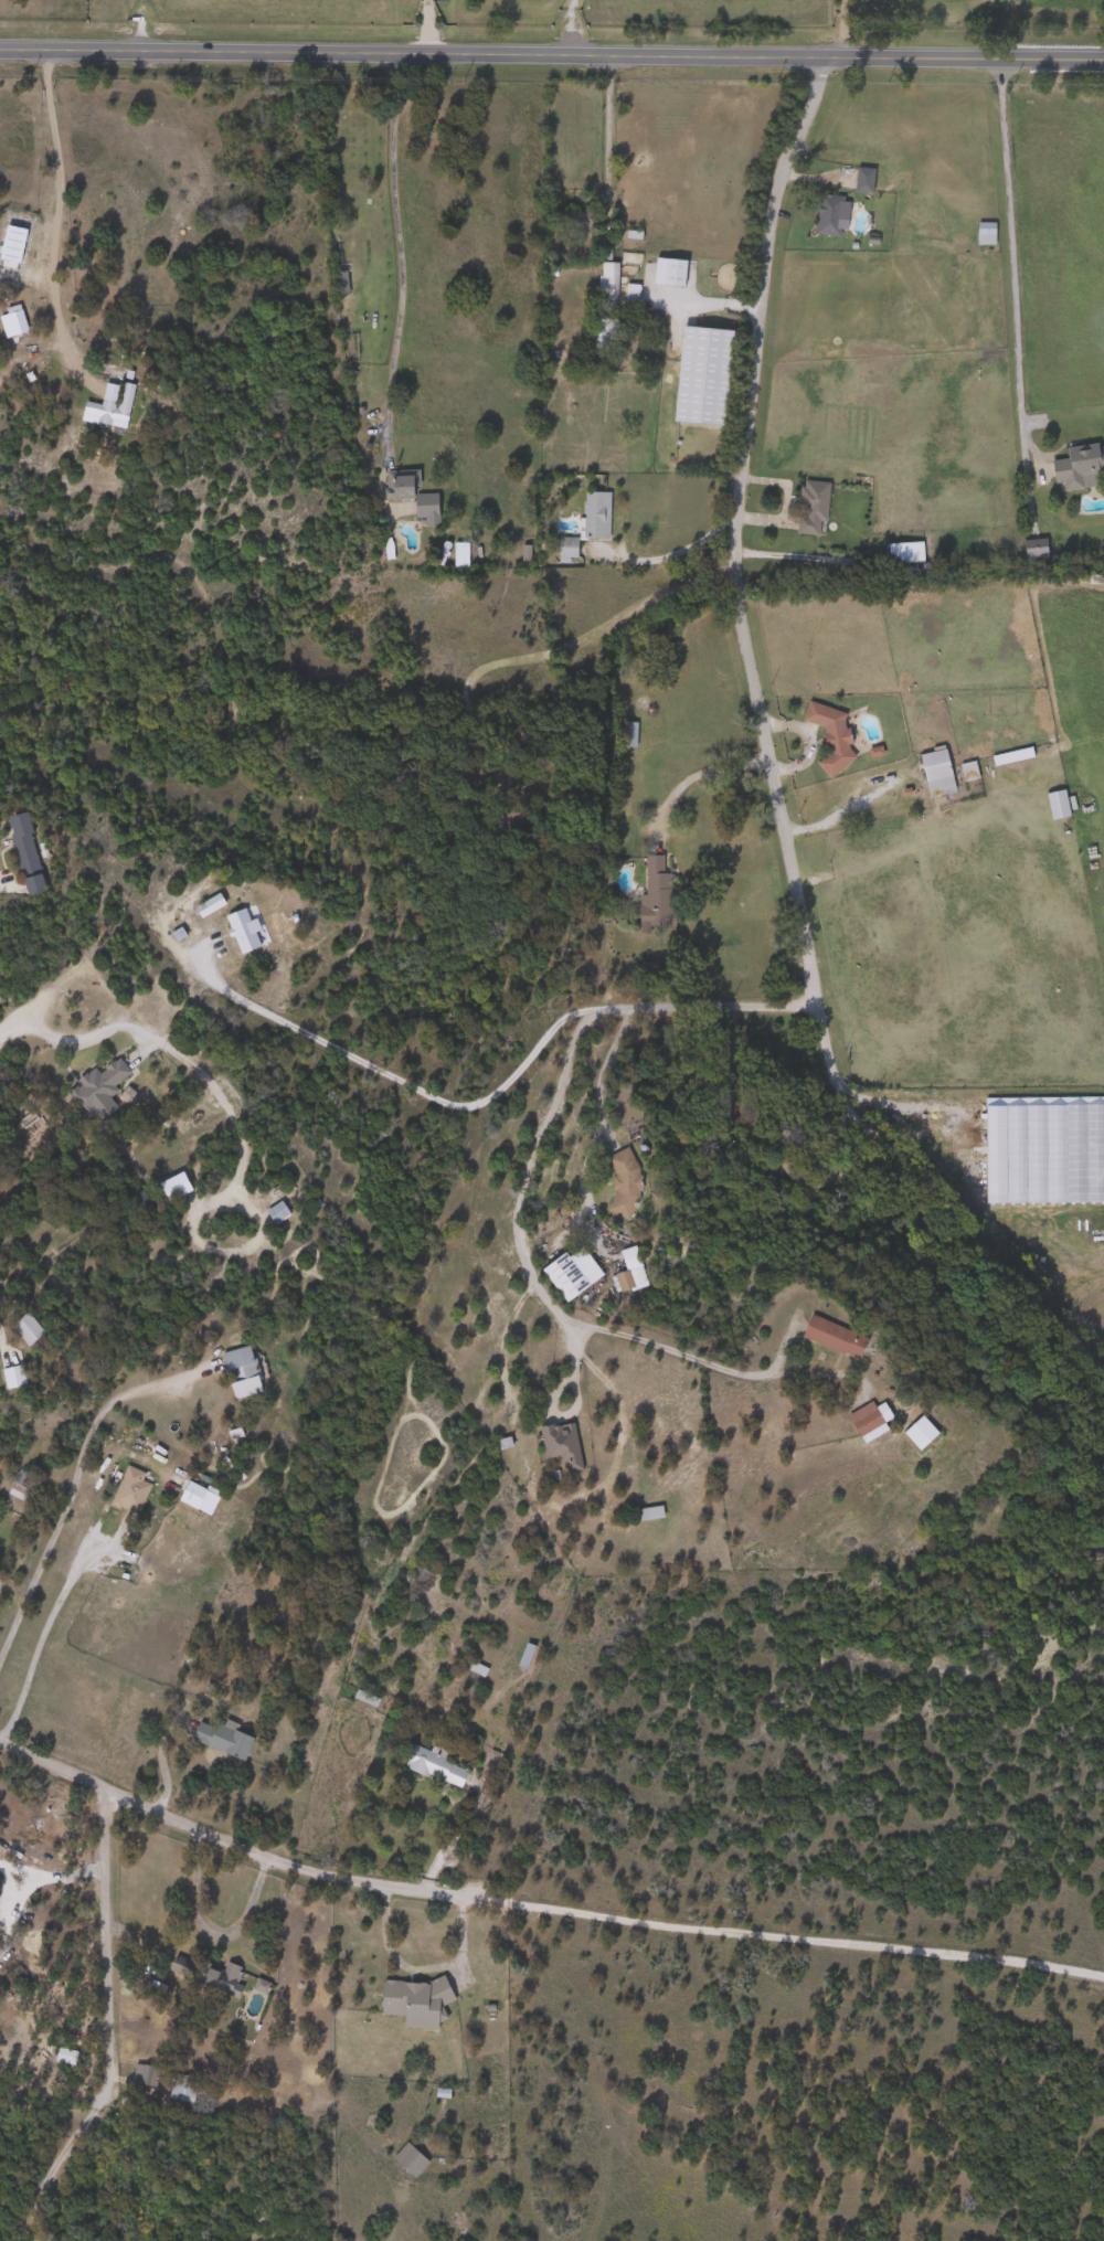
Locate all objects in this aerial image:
road: (141, 24)
road: (427, 25)
road: (841, 28)
road: (552, 53)
road: (603, 135)
building: (867, 179)
road: (59, 197)
building: (834, 214)
building: (986, 234)
road: (395, 235)
road: (1008, 235)
building: (672, 272)
building: (342, 283)
building: (634, 296)
road: (707, 297)
building: (14, 323)
building: (605, 334)
building: (708, 376)
building: (113, 408)
building: (1082, 468)
building: (414, 495)
building: (814, 508)
building: (590, 522)
road: (680, 546)
building: (1039, 548)
road: (802, 552)
building: (905, 553)
road: (735, 586)
road: (566, 640)
building: (628, 733)
building: (834, 734)
building: (1015, 756)
building: (970, 771)
road: (702, 772)
building: (941, 773)
building: (1060, 805)
building: (29, 853)
building: (656, 895)
building: (213, 905)
building: (246, 931)
road: (17, 1019)
road: (184, 1060)
road: (380, 1079)
building: (100, 1083)
road: (930, 1109)
road: (599, 1120)
road: (524, 1158)
building: (626, 1181)
building: (178, 1186)
building: (279, 1212)
road: (977, 1245)
building: (633, 1271)
building: (575, 1273)
building: (30, 1328)
building: (840, 1336)
building: (245, 1371)
building: (870, 1421)
building: (923, 1433)
building: (509, 1442)
building: (562, 1447)
building: (21, 1486)
road: (68, 1489)
building: (131, 1490)
building: (650, 1512)
road: (39, 1639)
building: (529, 1655)
building: (480, 1668)
building: (369, 1697)
building: (229, 1739)
building: (439, 1766)
road: (541, 1908)
building: (226, 1978)
building: (417, 1998)
road: (102, 2024)
building: (185, 2088)
building: (413, 2158)

